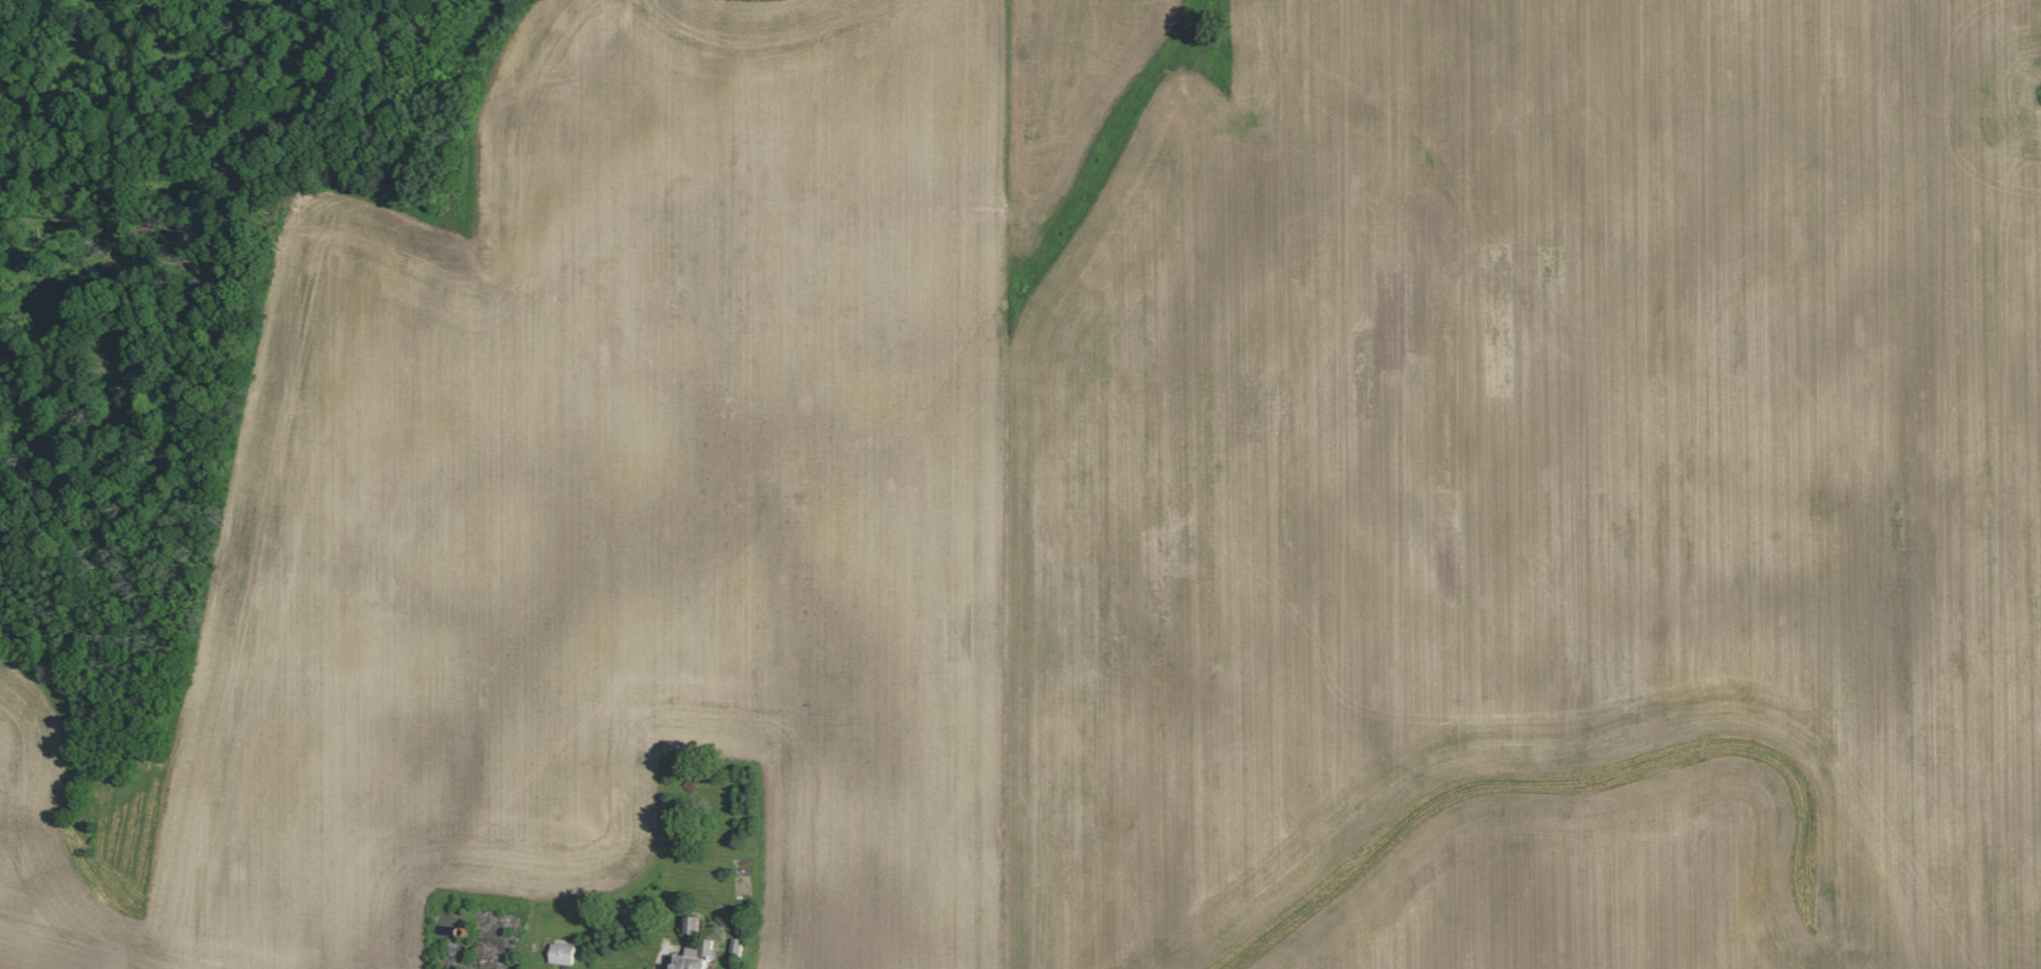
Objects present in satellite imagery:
building: (687, 924)
building: (559, 953)
building: (691, 956)
road: (660, 960)

